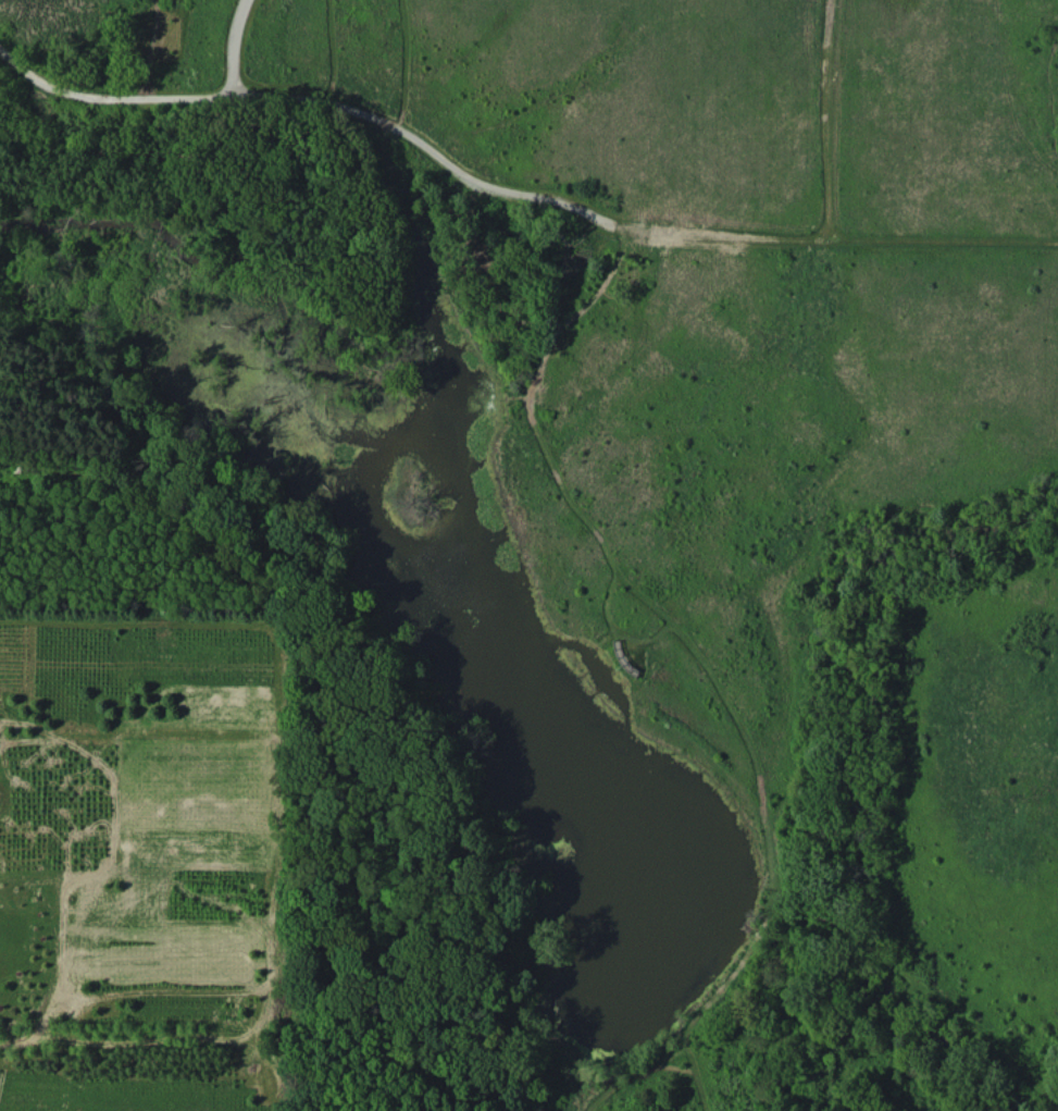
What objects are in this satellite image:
road: (226, 45)
road: (104, 97)
road: (826, 234)

